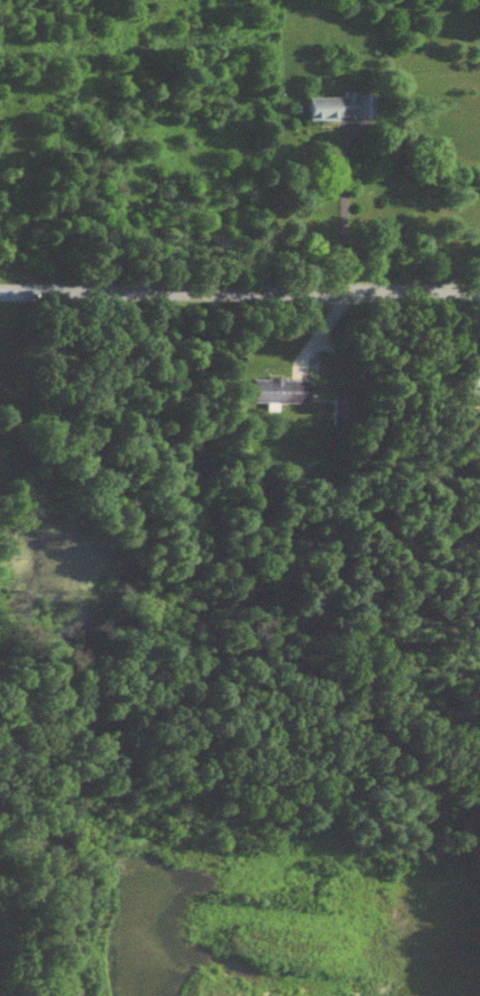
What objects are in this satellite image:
building: (340, 112)
road: (339, 211)
road: (240, 293)
building: (473, 384)
building: (281, 395)
building: (341, 415)

